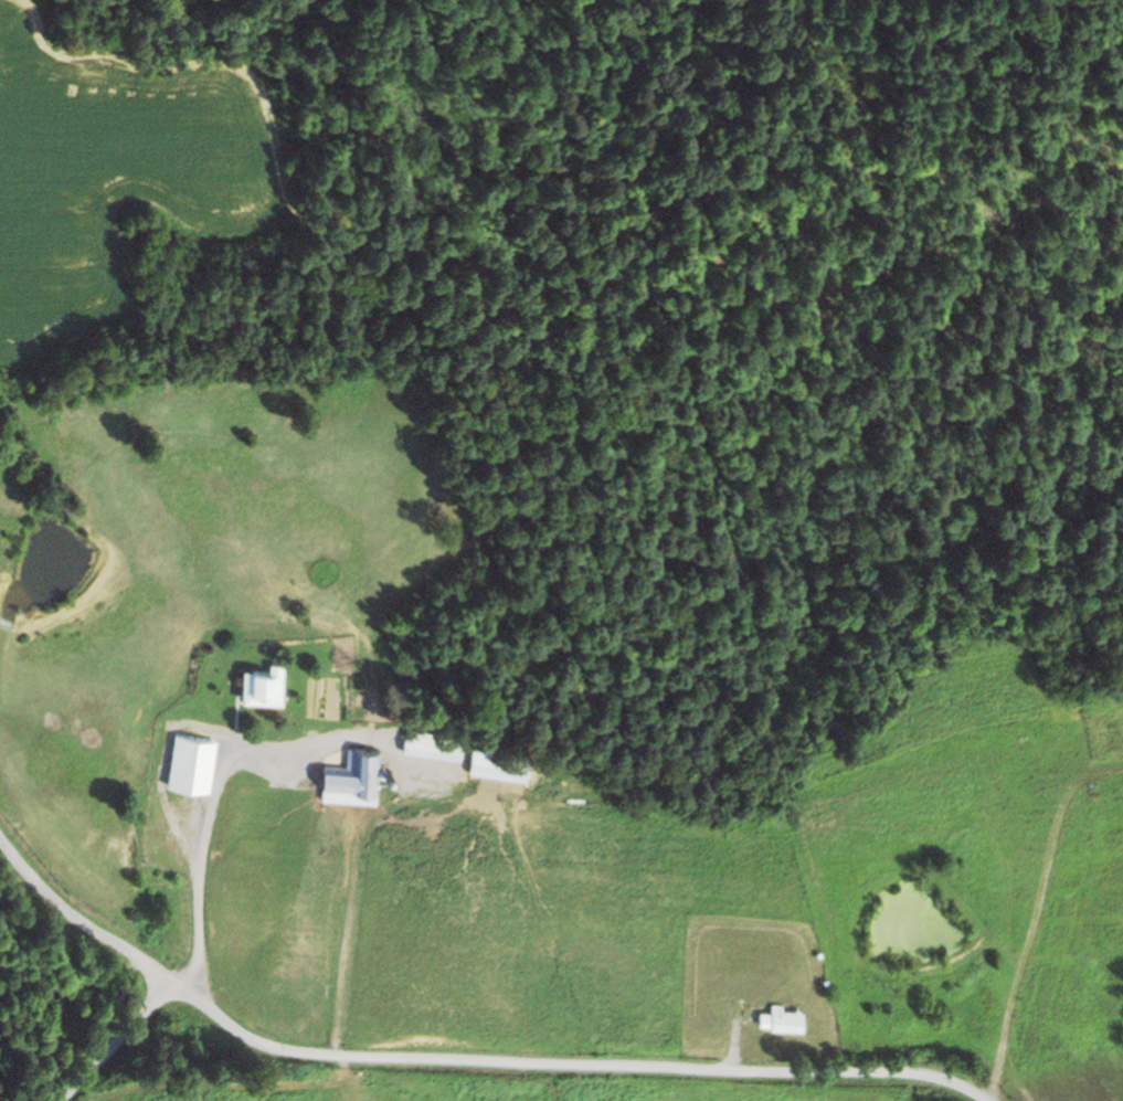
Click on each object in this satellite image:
road: (123, 1042)
road: (462, 1057)

